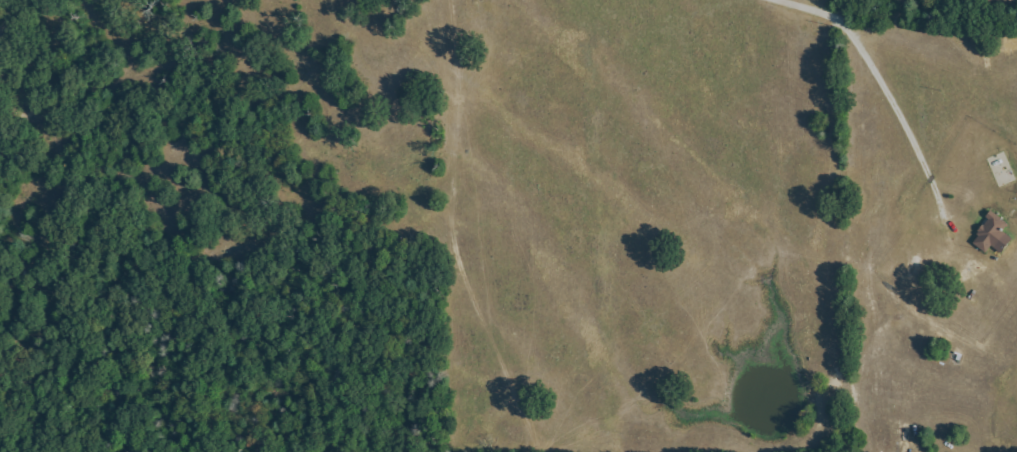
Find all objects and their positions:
road: (887, 94)
building: (991, 234)

